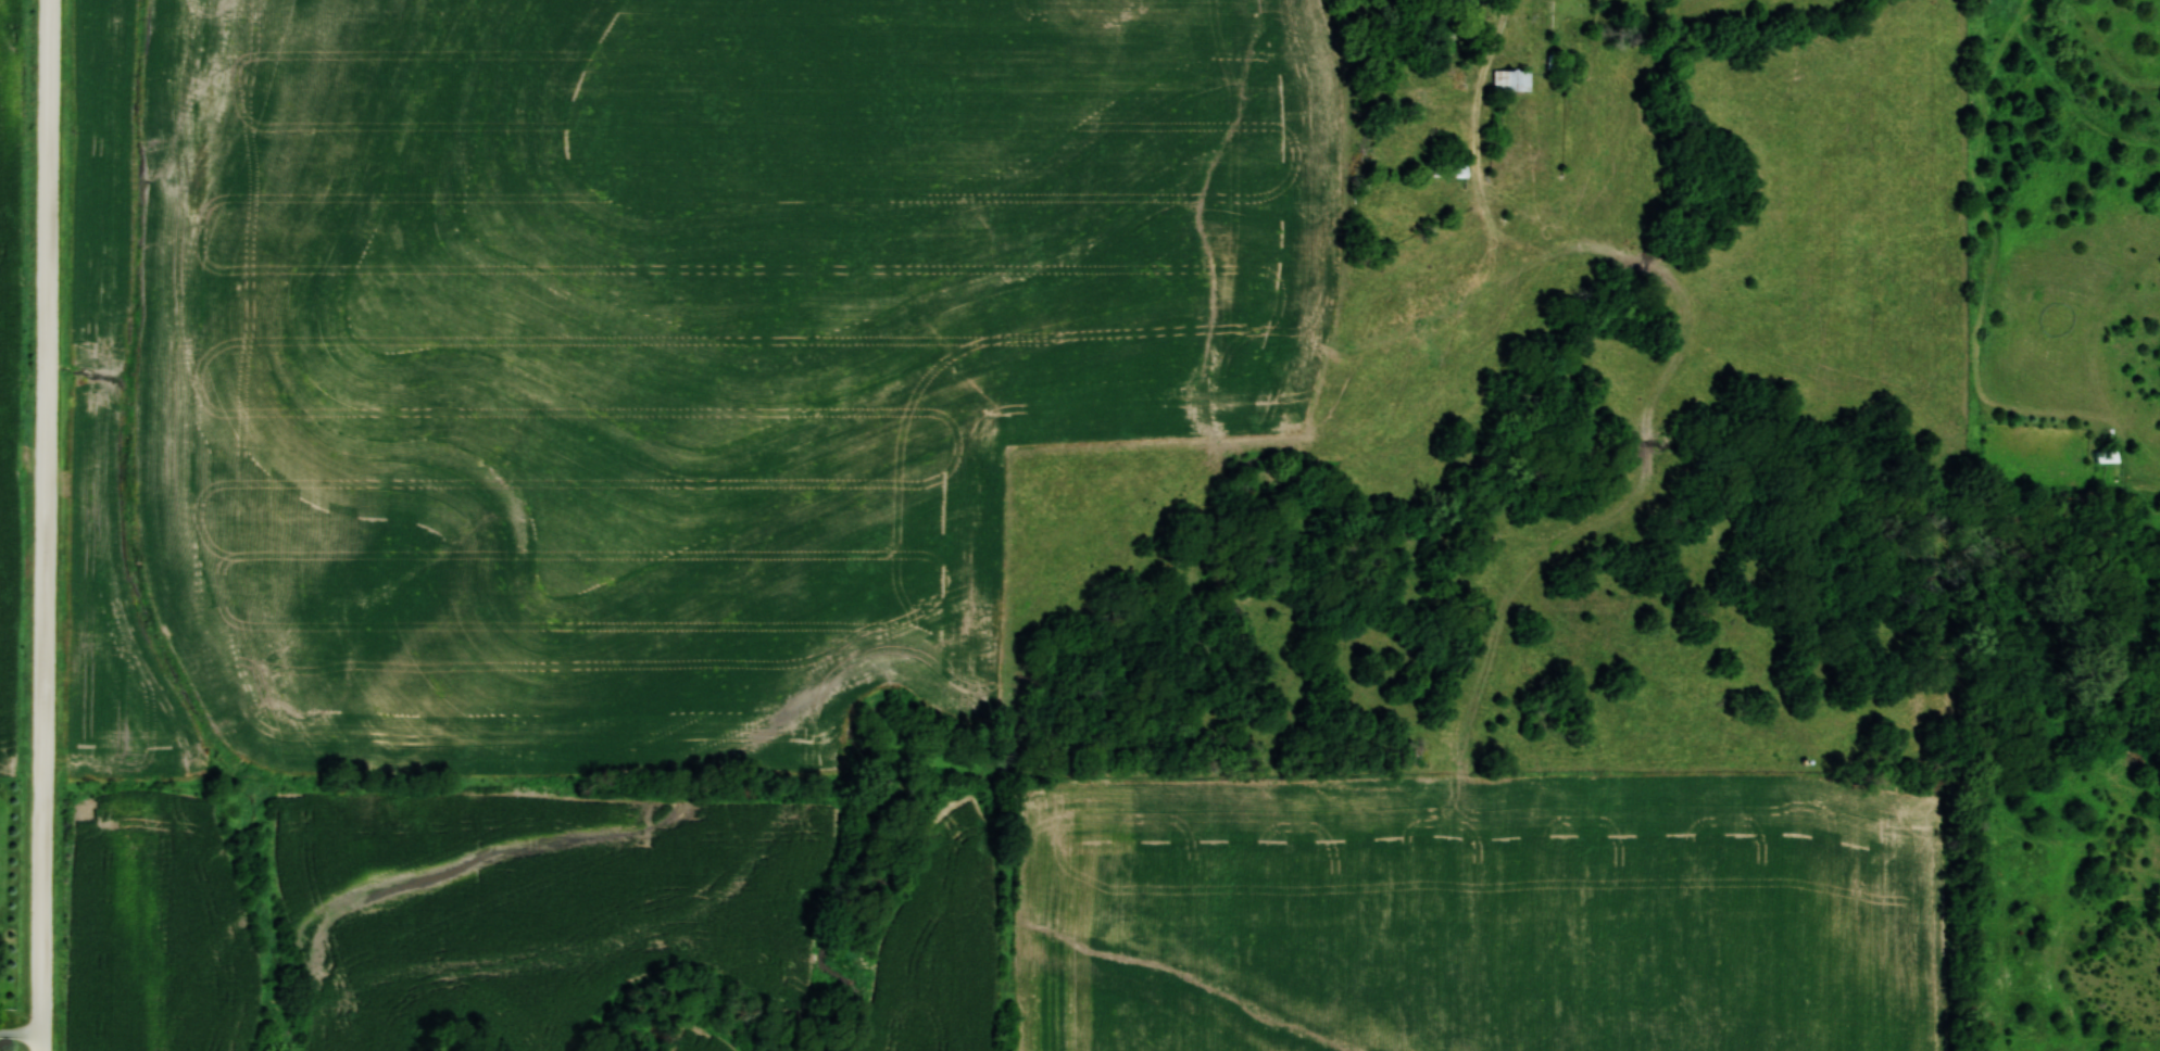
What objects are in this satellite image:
building: (1546, 13)
building: (1581, 47)
building: (1514, 79)
building: (1451, 168)
building: (2108, 456)
road: (46, 525)

